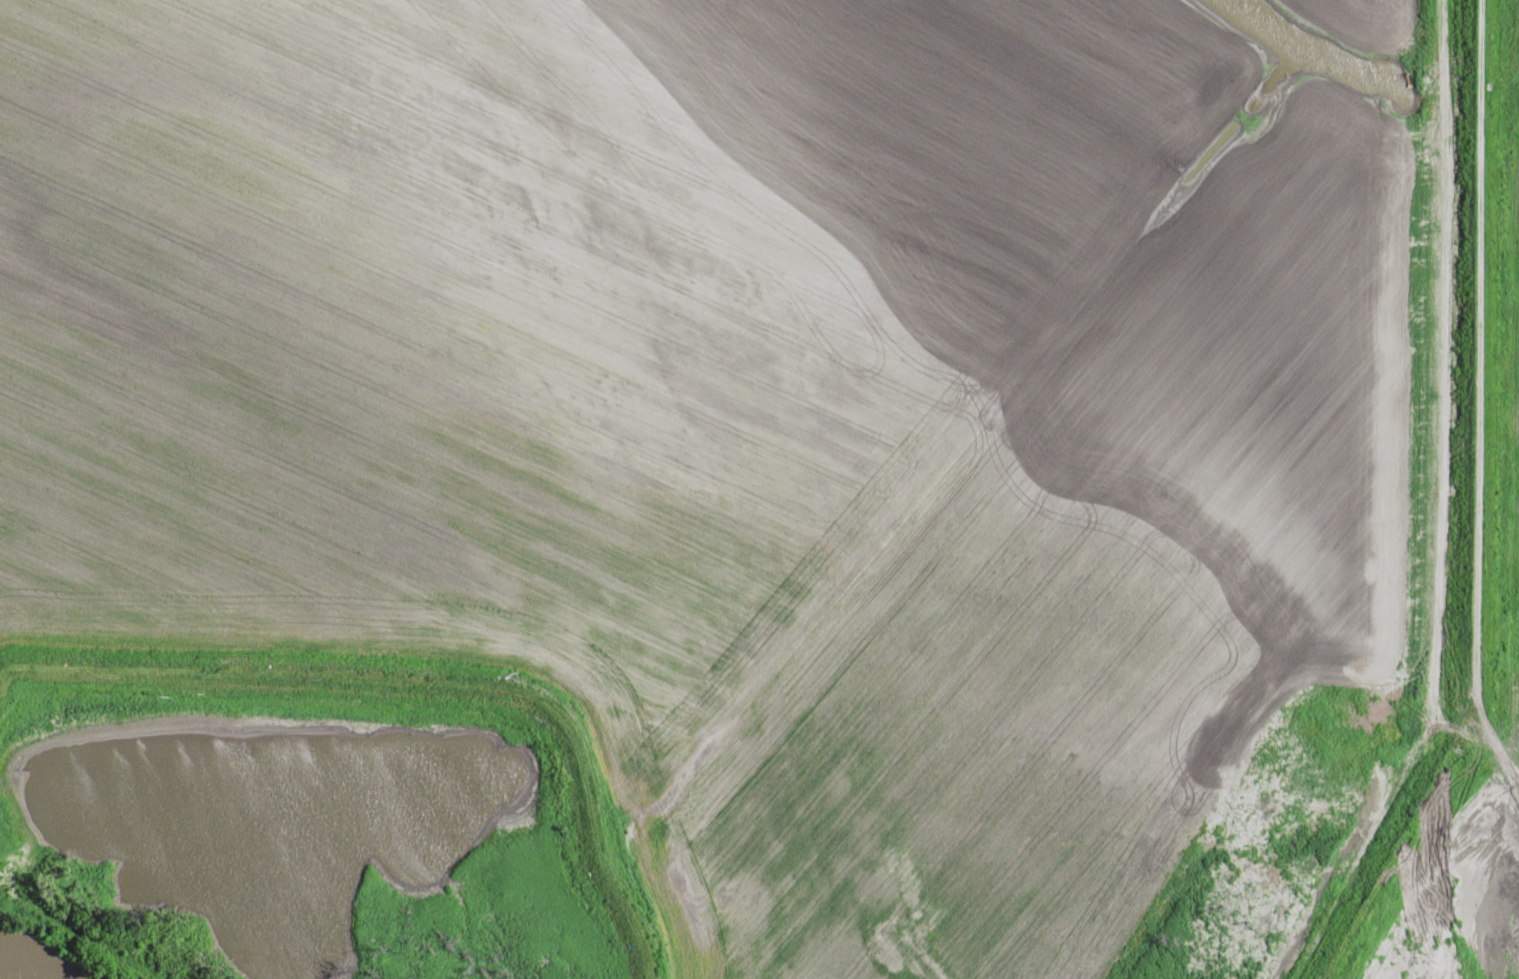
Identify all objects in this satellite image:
road: (1439, 310)

